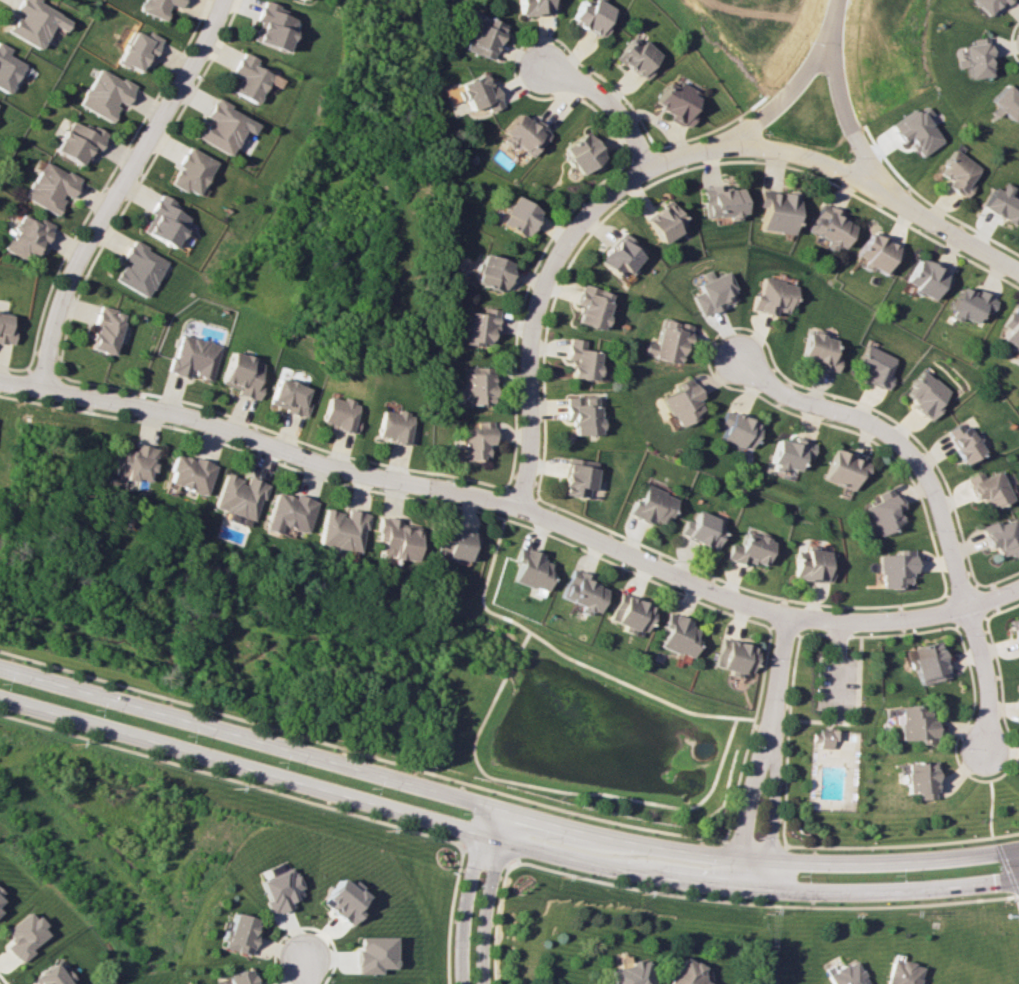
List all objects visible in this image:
building: (990, 5)
building: (535, 6)
building: (157, 7)
building: (593, 16)
building: (35, 21)
building: (271, 26)
building: (481, 36)
building: (138, 51)
building: (636, 57)
building: (976, 58)
building: (7, 69)
road: (797, 76)
building: (247, 78)
building: (476, 92)
building: (105, 94)
road: (835, 95)
building: (675, 102)
building: (1007, 102)
road: (610, 110)
building: (223, 127)
building: (916, 131)
building: (523, 134)
building: (78, 141)
building: (582, 154)
building: (190, 171)
building: (958, 173)
road: (877, 186)
building: (50, 187)
road: (127, 192)
building: (720, 202)
building: (1003, 203)
building: (777, 210)
building: (164, 222)
building: (662, 222)
building: (829, 226)
building: (27, 237)
building: (878, 253)
building: (619, 255)
road: (561, 261)
building: (137, 269)
building: (490, 272)
building: (926, 278)
building: (715, 294)
building: (774, 296)
building: (969, 304)
building: (591, 307)
building: (477, 326)
building: (5, 329)
building: (103, 330)
building: (1009, 331)
building: (670, 340)
building: (819, 351)
building: (191, 357)
building: (876, 366)
building: (241, 374)
building: (475, 385)
building: (925, 394)
building: (287, 396)
building: (683, 402)
building: (339, 414)
building: (583, 414)
building: (393, 425)
building: (737, 429)
building: (476, 441)
building: (963, 442)
building: (789, 453)
building: (133, 463)
building: (844, 469)
building: (188, 473)
building: (579, 477)
building: (988, 488)
building: (237, 496)
road: (942, 505)
building: (651, 506)
road: (517, 510)
building: (287, 512)
building: (883, 512)
building: (340, 529)
building: (702, 529)
building: (1002, 536)
building: (394, 538)
building: (455, 542)
building: (749, 549)
building: (812, 565)
building: (529, 569)
building: (895, 569)
building: (579, 592)
building: (627, 613)
building: (1016, 631)
building: (675, 634)
building: (732, 655)
building: (925, 663)
road: (785, 666)
building: (912, 724)
building: (820, 738)
road: (228, 779)
building: (915, 779)
road: (743, 794)
road: (768, 798)
road: (502, 813)
road: (502, 841)
road: (482, 853)
building: (278, 888)
building: (0, 891)
road: (1015, 894)
road: (479, 897)
building: (0, 899)
building: (343, 900)
road: (758, 903)
road: (450, 913)
road: (1015, 914)
road: (497, 921)
building: (238, 933)
building: (24, 936)
road: (274, 946)
road: (332, 949)
building: (374, 954)
road: (304, 972)
building: (898, 972)
building: (627, 973)
building: (683, 973)
building: (843, 974)
building: (51, 975)
building: (240, 977)
road: (3, 979)
building: (573, 983)

